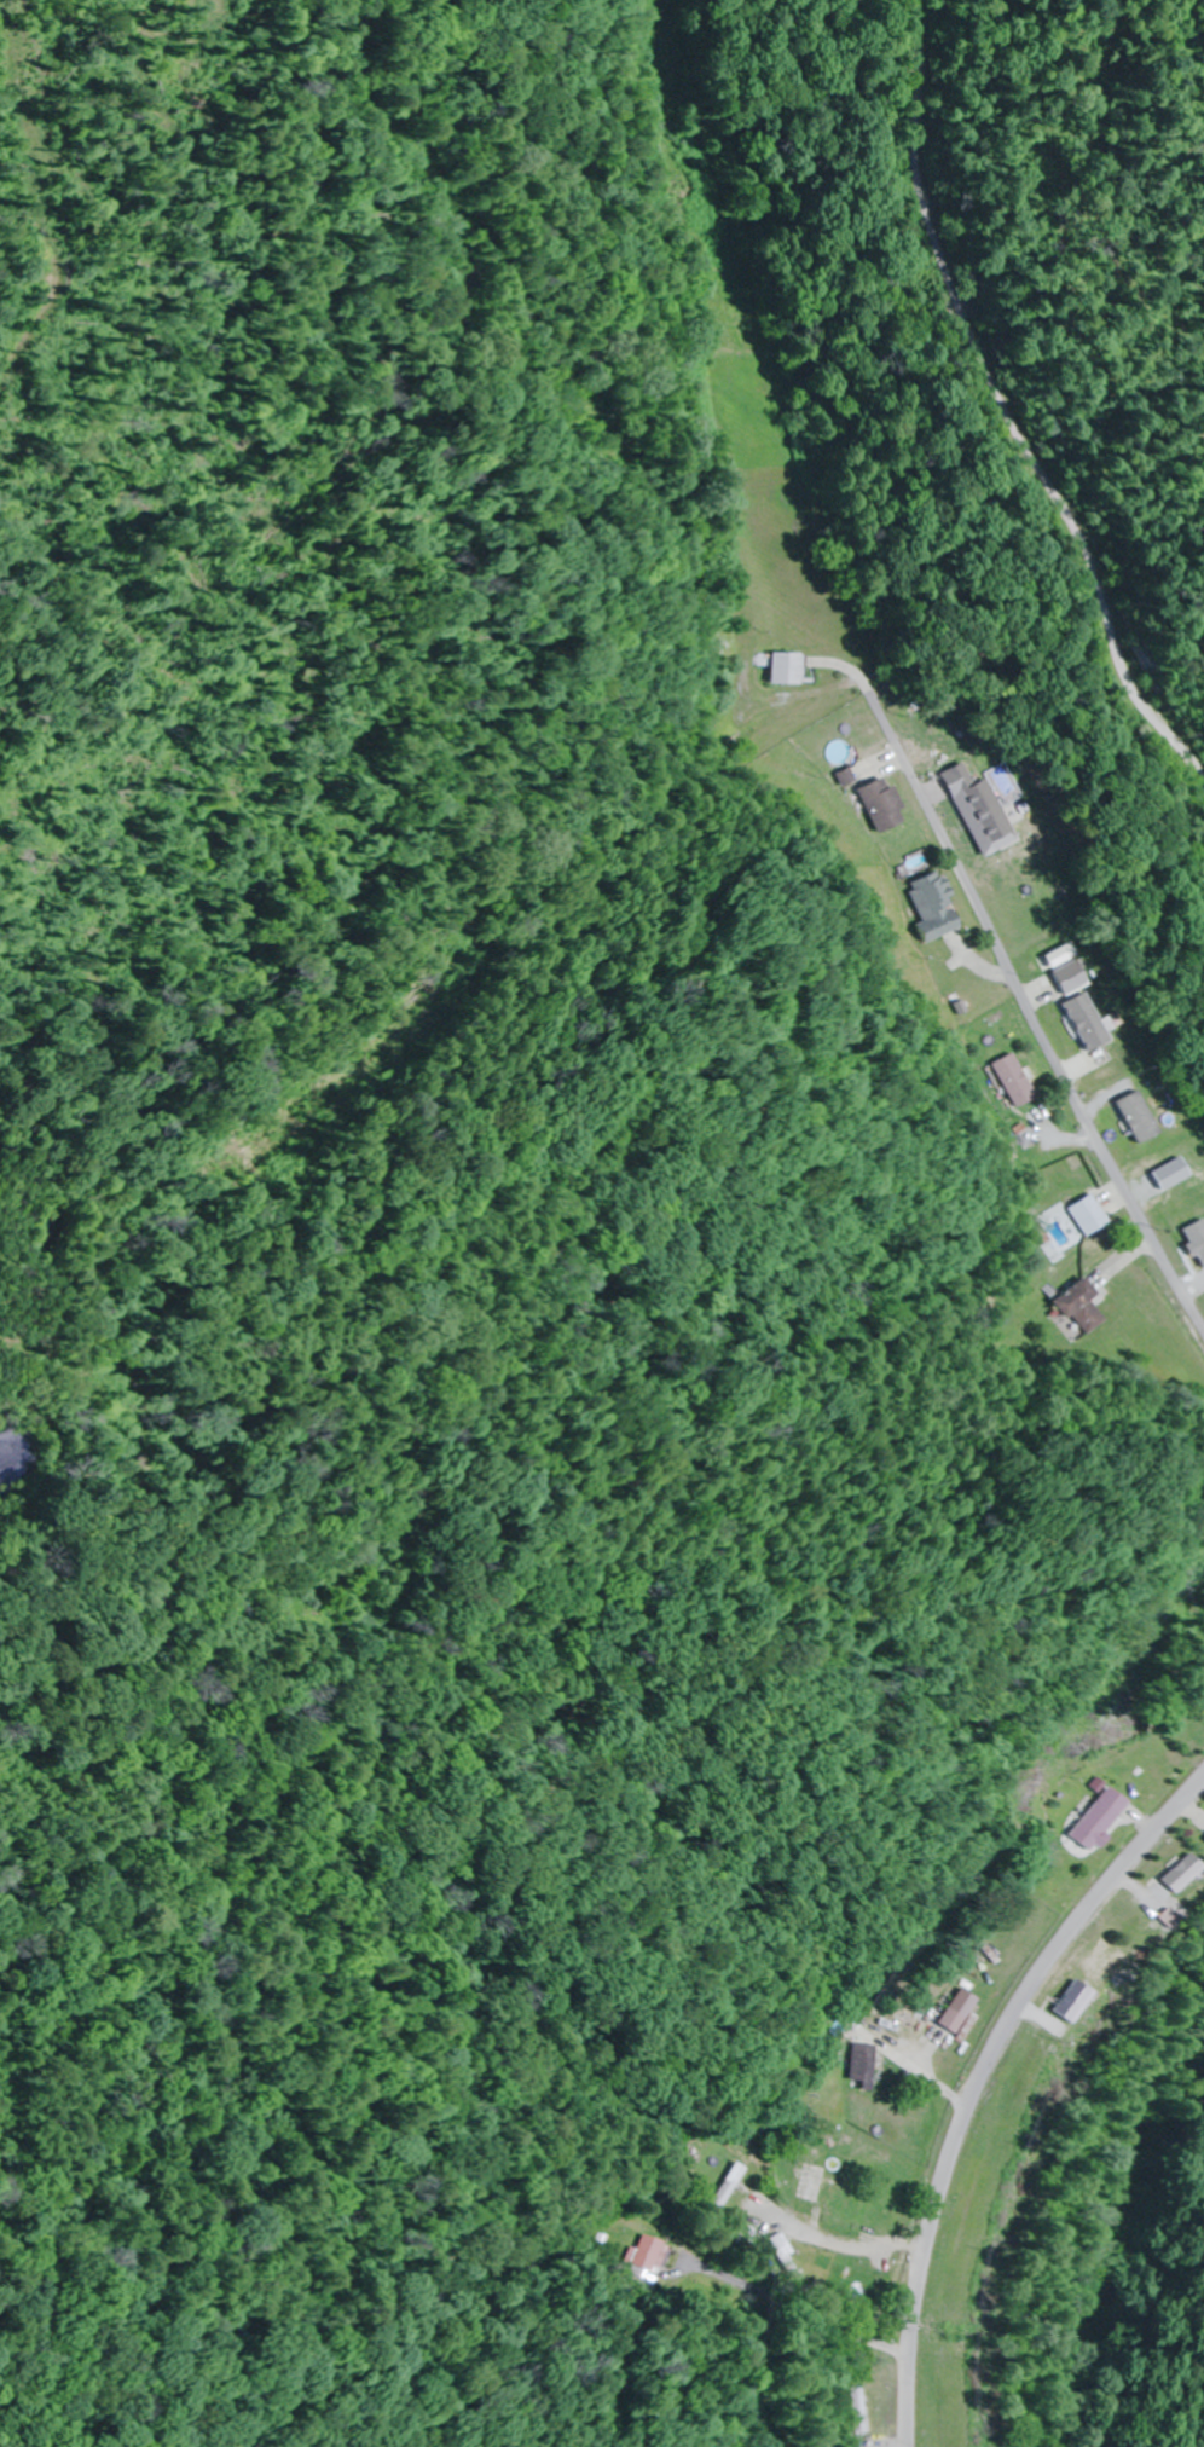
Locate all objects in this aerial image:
building: (791, 669)
building: (885, 806)
building: (980, 806)
building: (938, 906)
road: (1017, 1001)
building: (1019, 1081)
building: (1093, 1216)
building: (1087, 1307)
building: (1109, 1820)
building: (1183, 1874)
building: (968, 2013)
building: (872, 2066)
road: (996, 2089)
building: (817, 2183)
building: (731, 2187)
building: (643, 2256)
building: (712, 2301)
building: (858, 2408)

